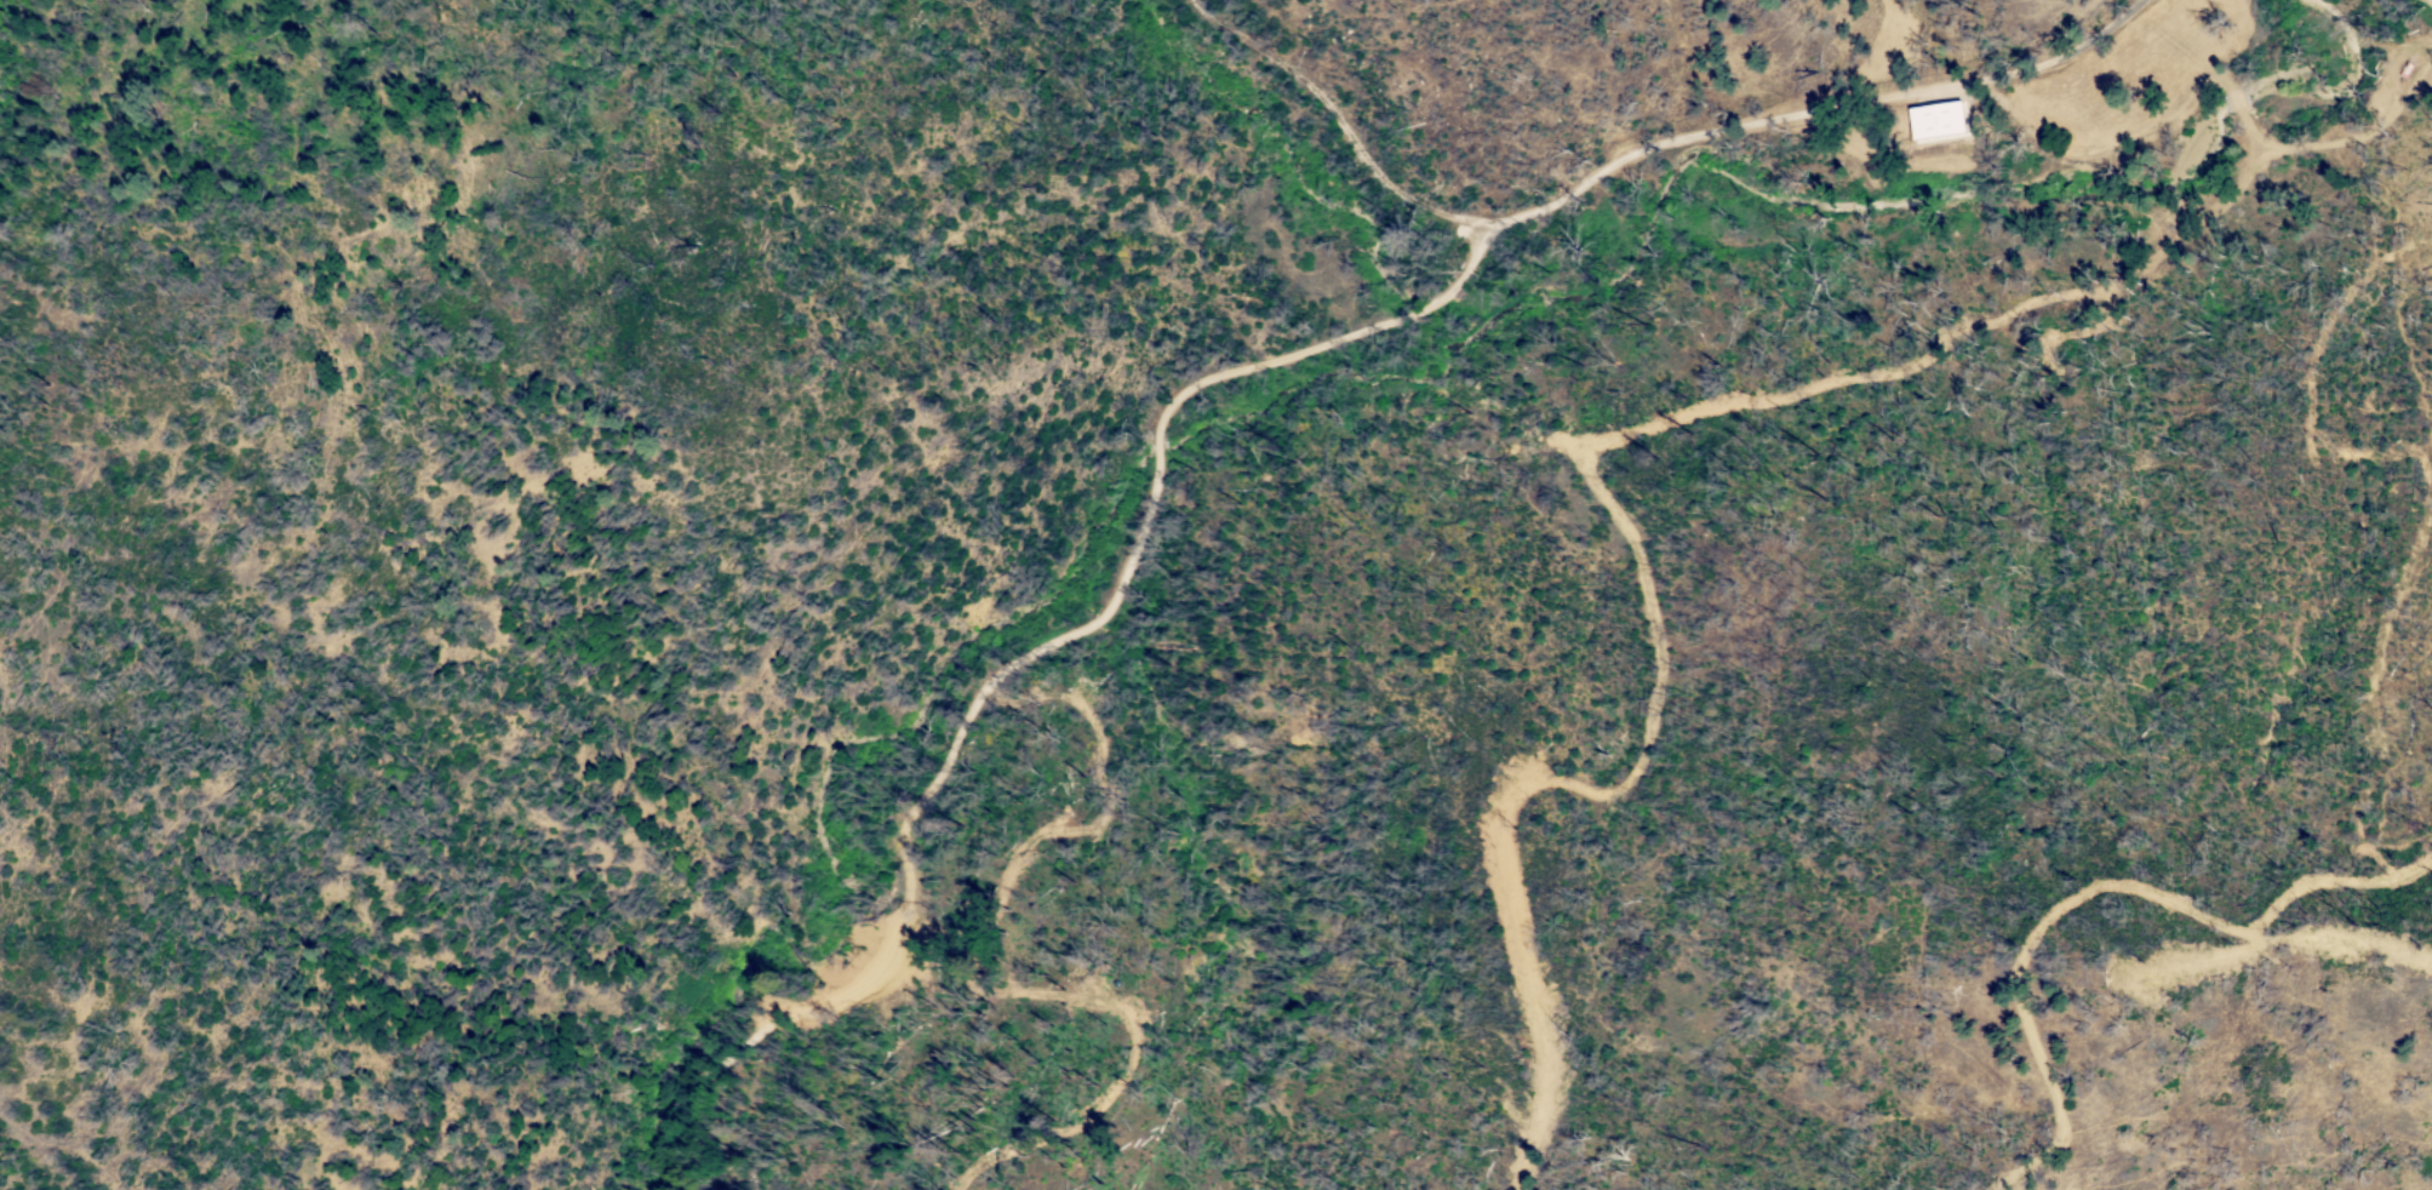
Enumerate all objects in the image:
building: (1934, 115)
road: (1649, 144)

